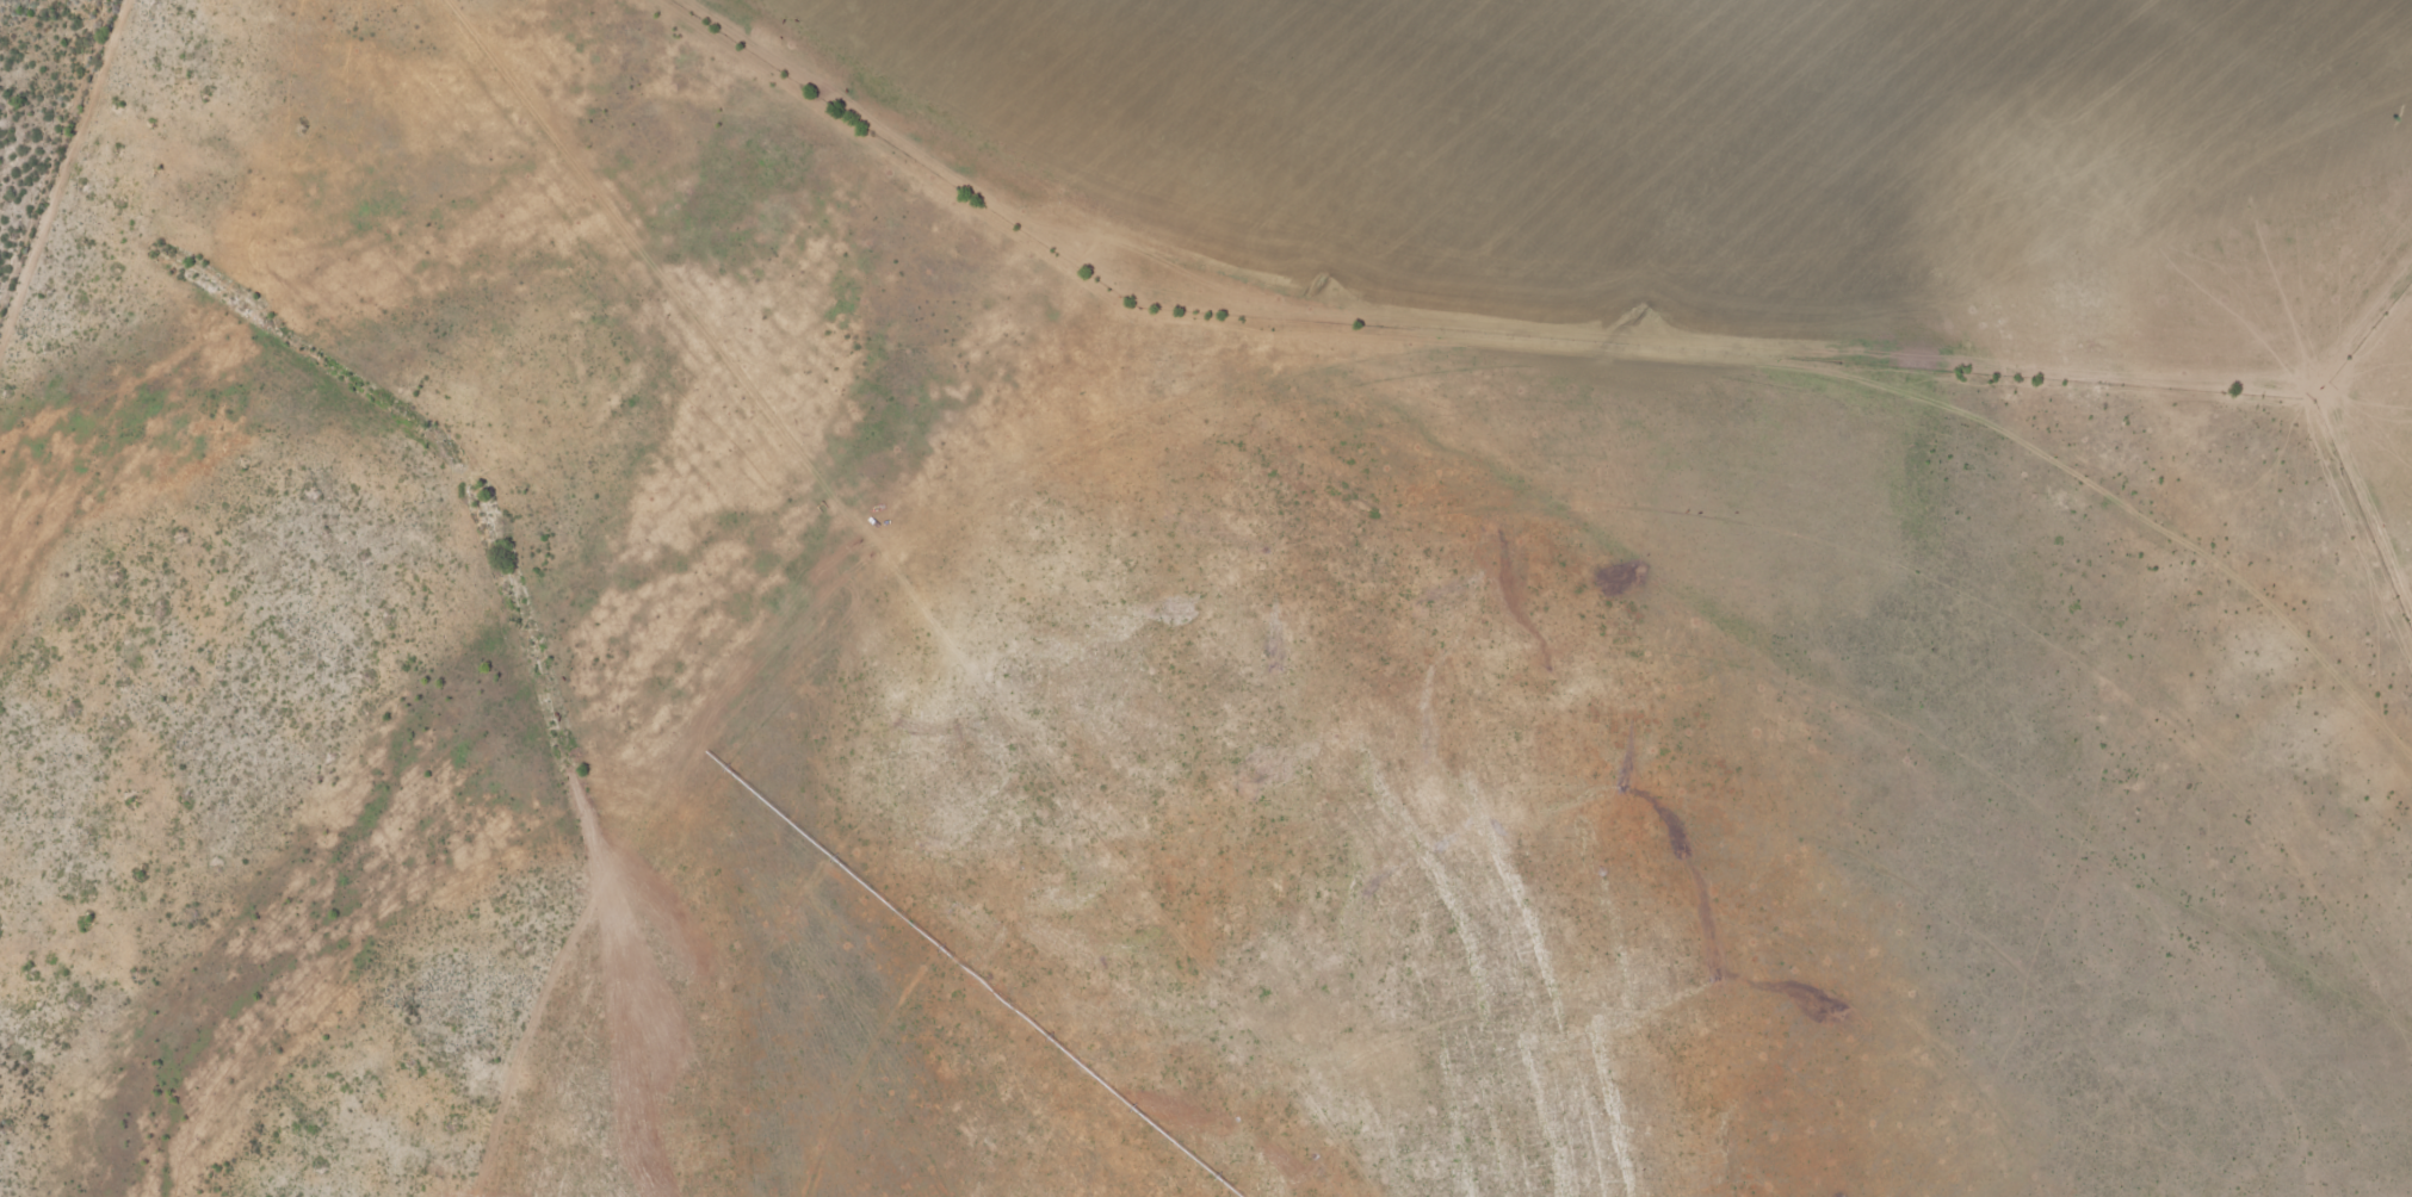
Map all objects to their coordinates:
road: (1569, 523)

